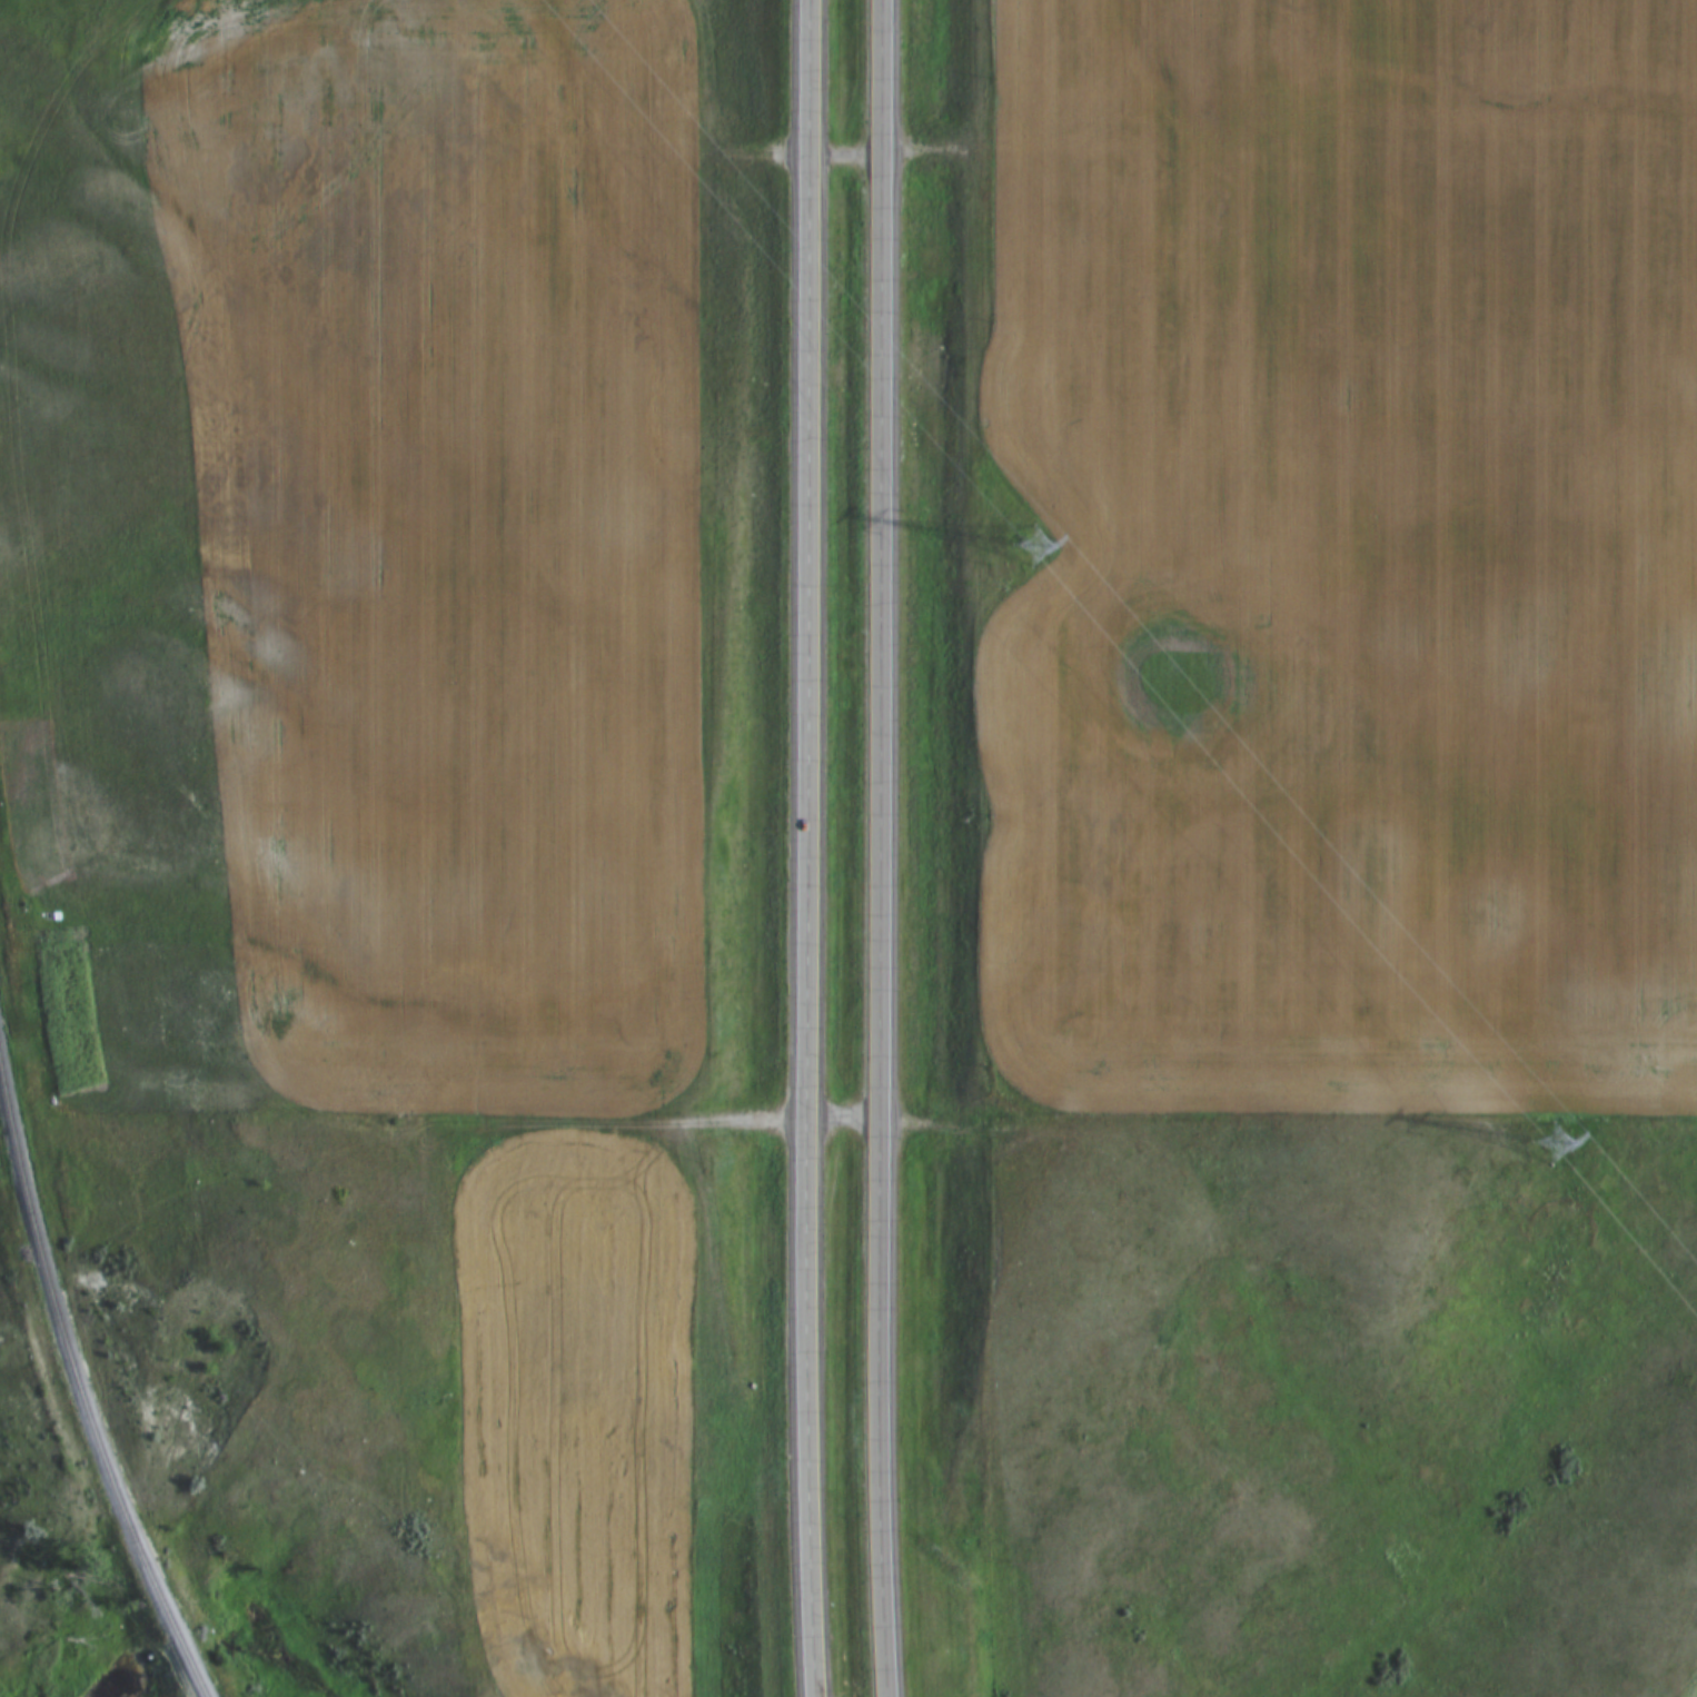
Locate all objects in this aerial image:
power tower: (1041, 544)
road: (806, 848)
road: (875, 848)
power tower: (1552, 1149)
railway: (97, 1385)

